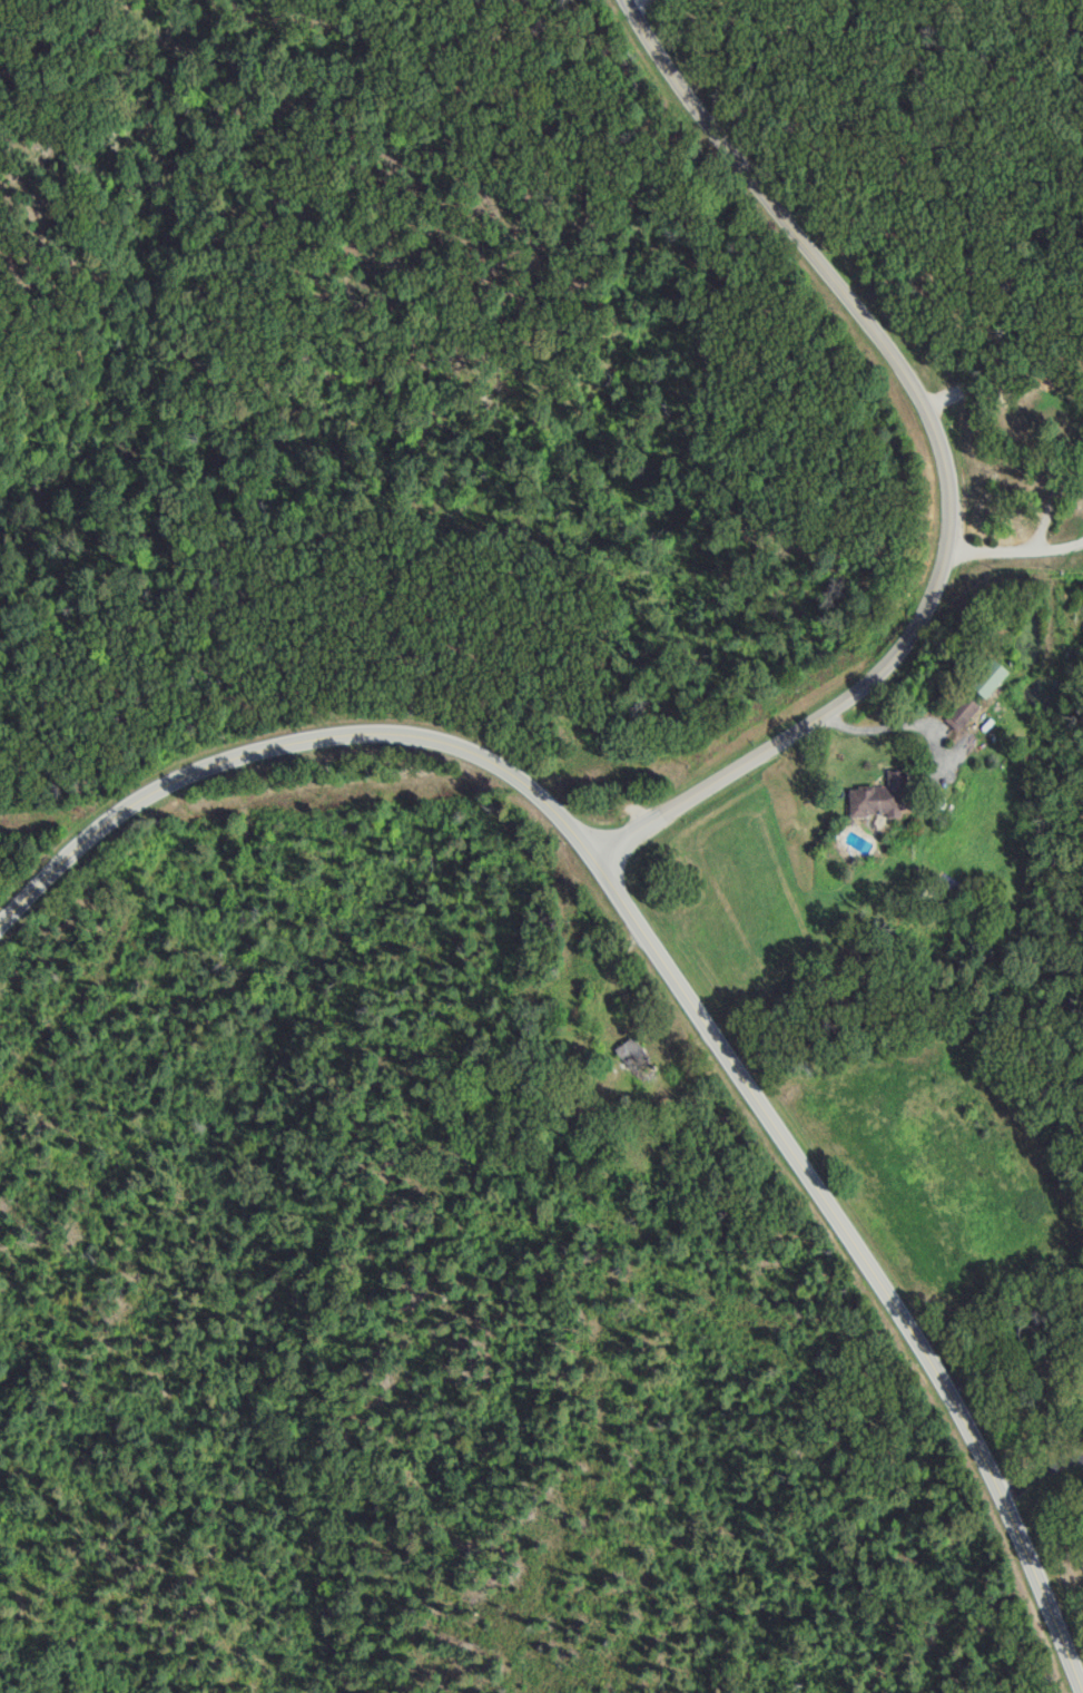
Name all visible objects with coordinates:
road: (628, 1)
road: (944, 467)
road: (1013, 542)
road: (936, 688)
building: (965, 713)
building: (884, 795)
road: (666, 972)
road: (1041, 1469)

